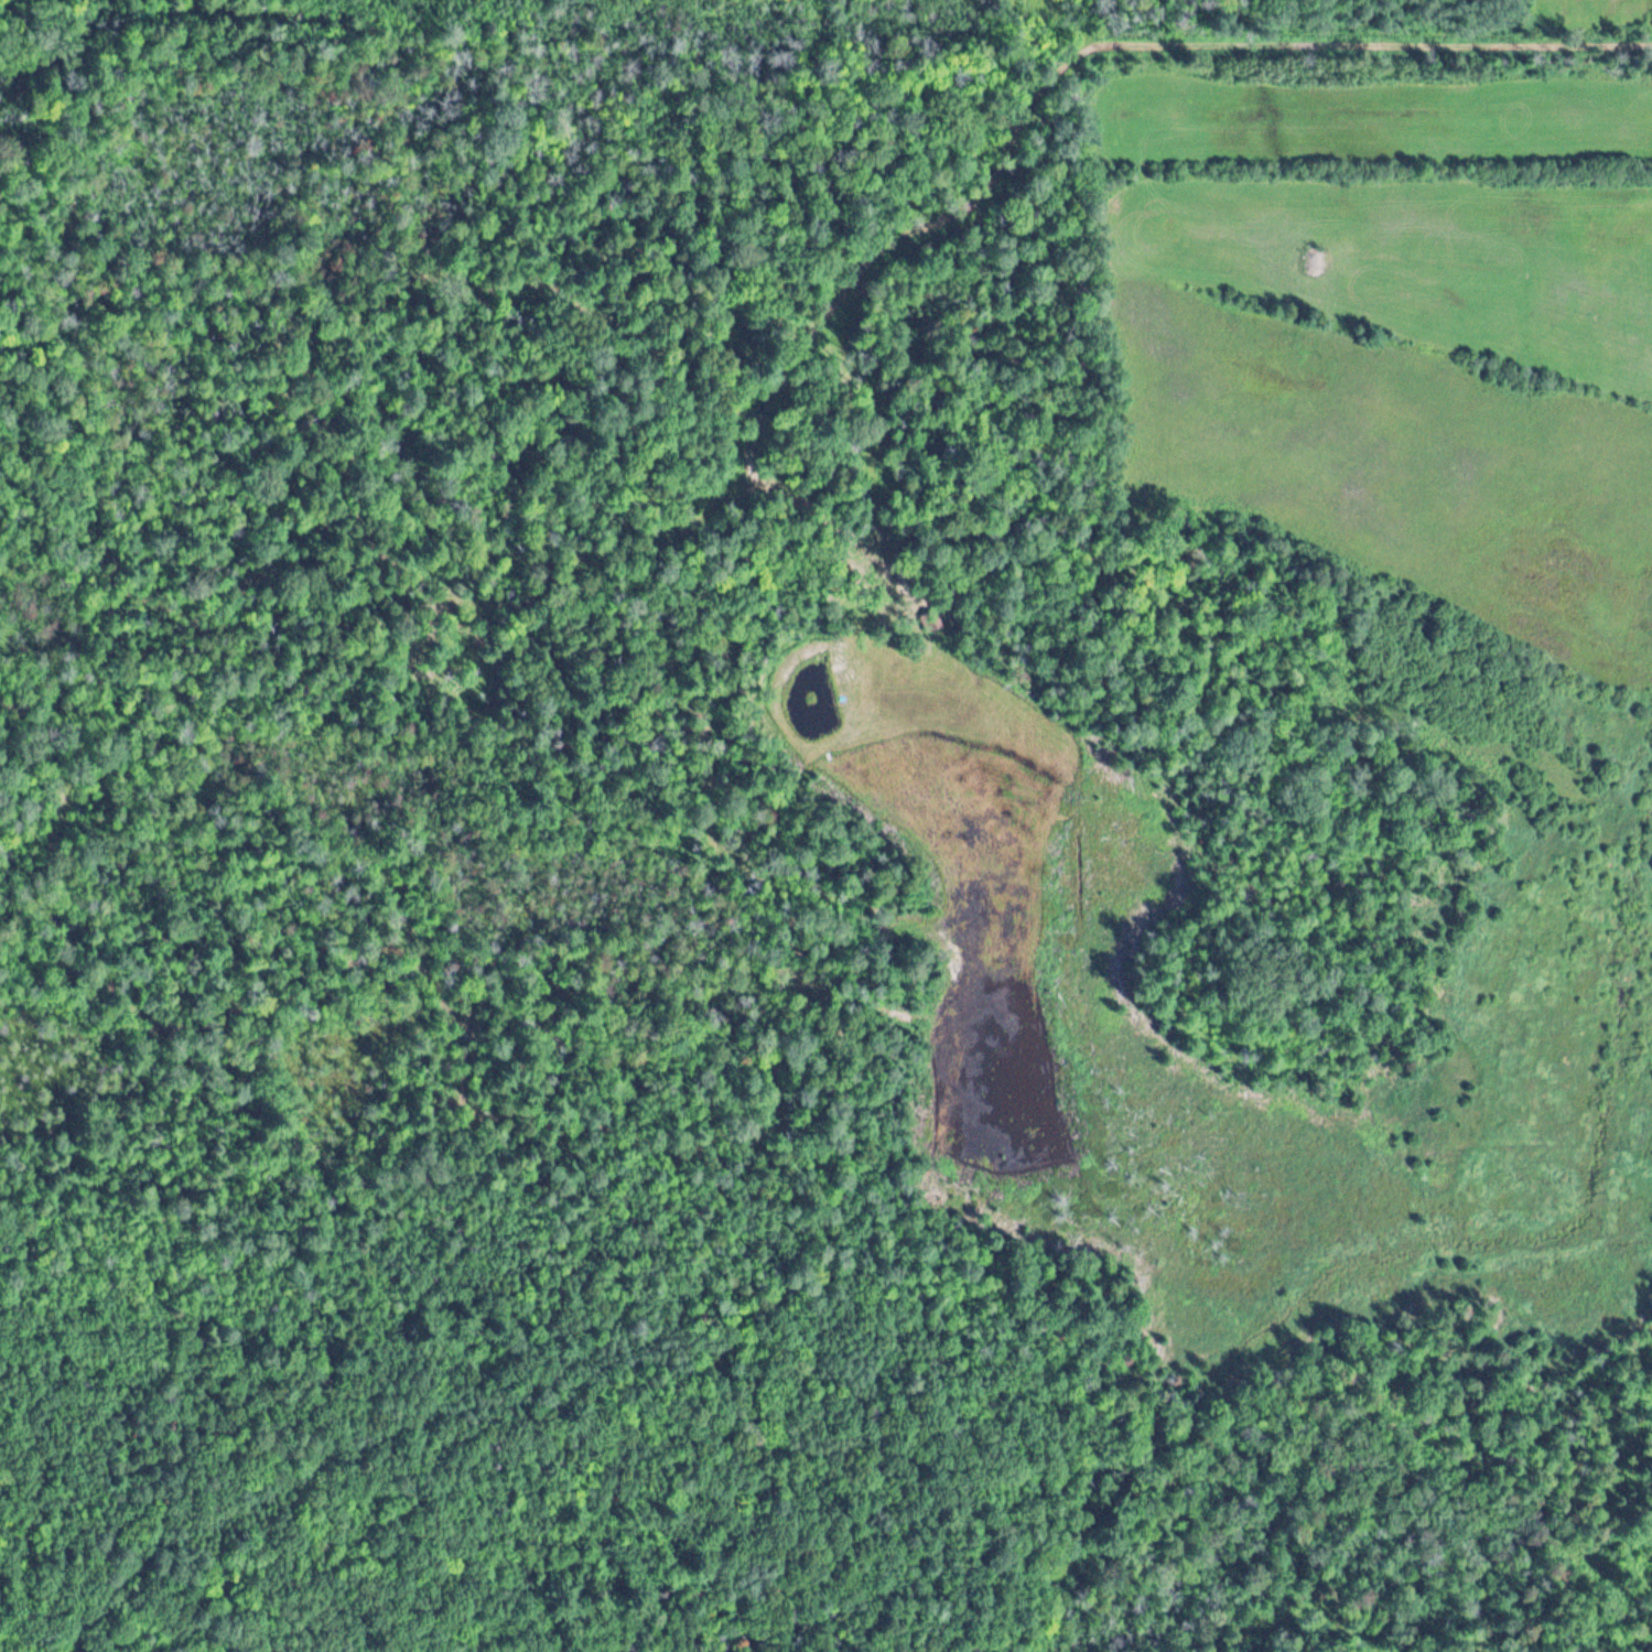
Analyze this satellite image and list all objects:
road: (1083, 15)
road: (1369, 46)

